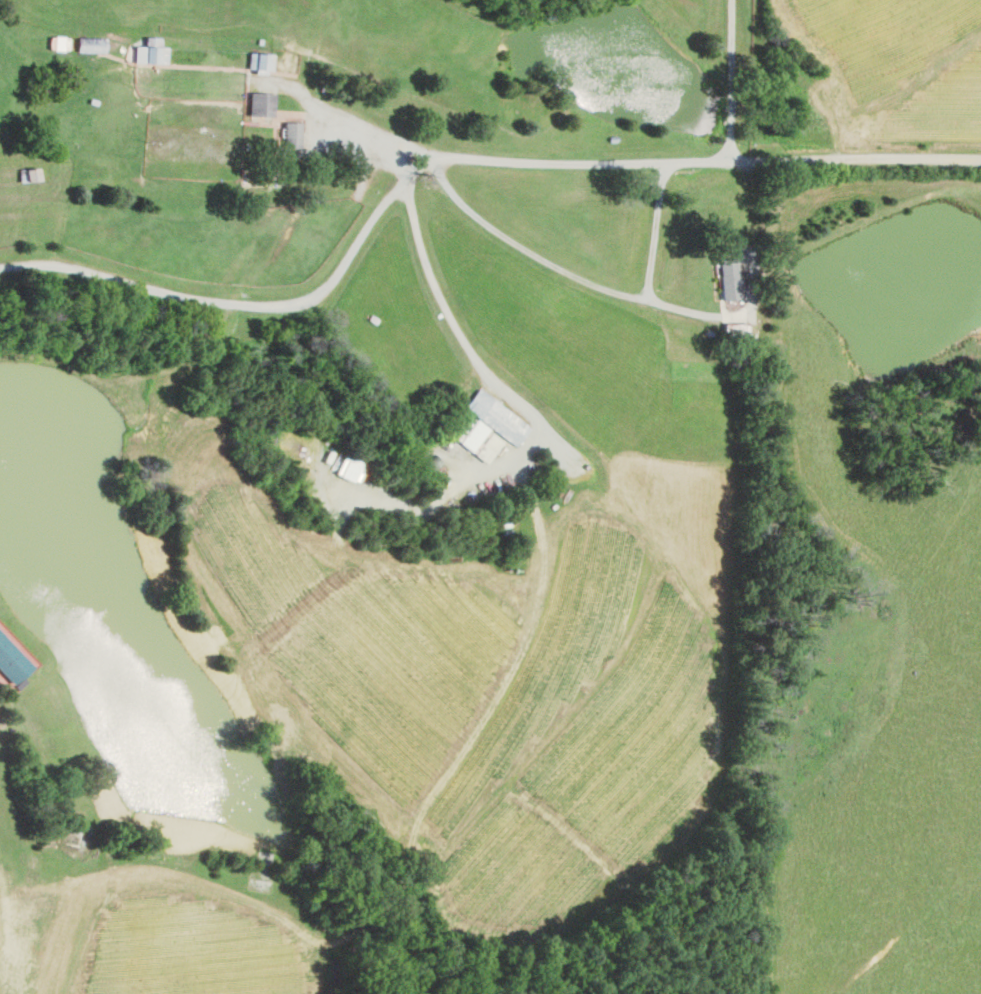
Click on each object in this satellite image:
building: (58, 42)
building: (91, 44)
building: (150, 50)
building: (261, 60)
road: (809, 70)
building: (262, 103)
building: (292, 134)
road: (395, 143)
road: (450, 156)
building: (29, 174)
building: (731, 280)
building: (490, 427)
building: (349, 469)
building: (12, 657)

